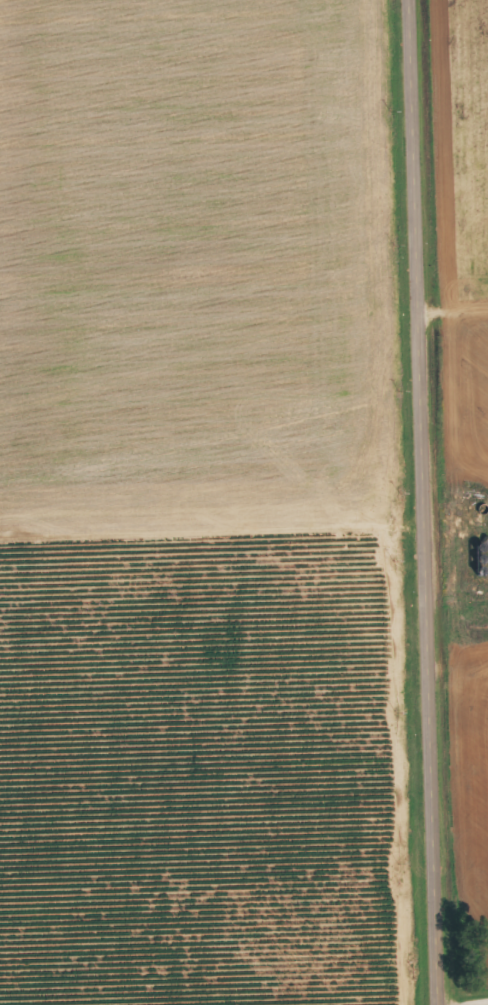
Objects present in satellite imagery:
road: (422, 502)
building: (459, 516)
road: (211, 546)

